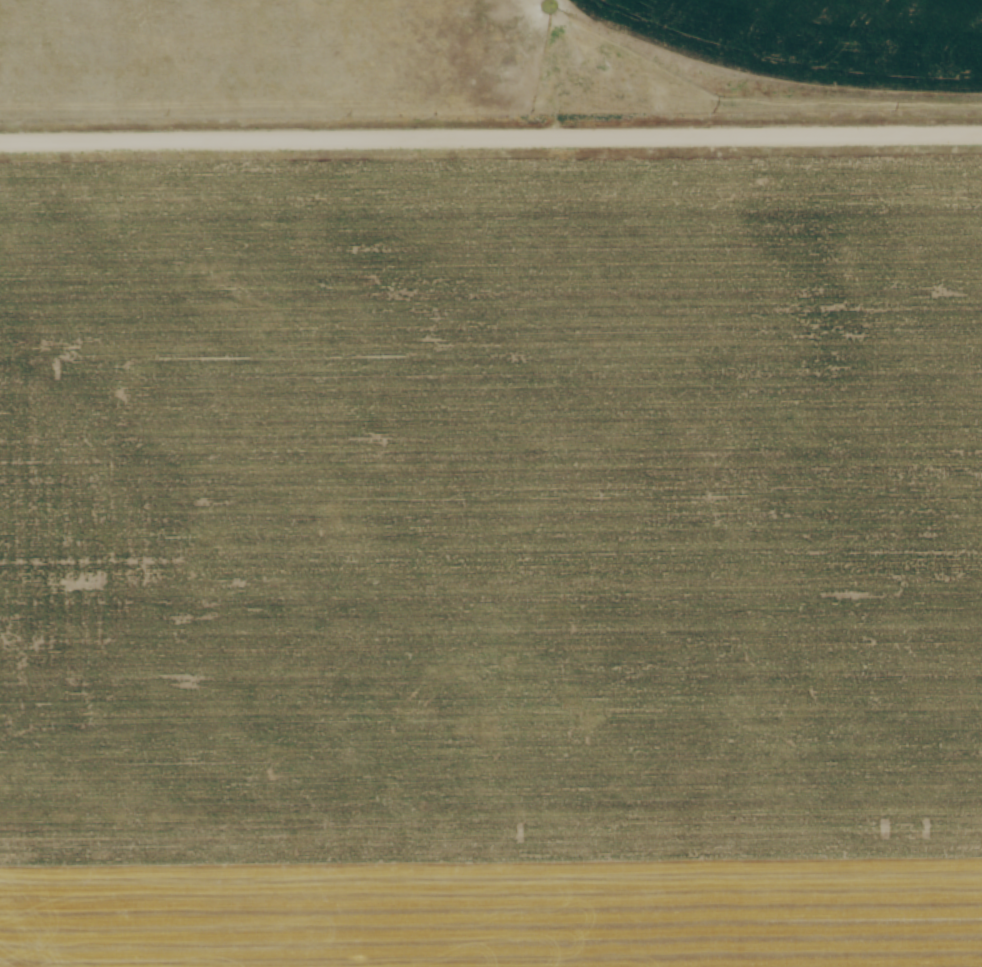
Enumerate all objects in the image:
crop: (817, 32)
road: (490, 136)

